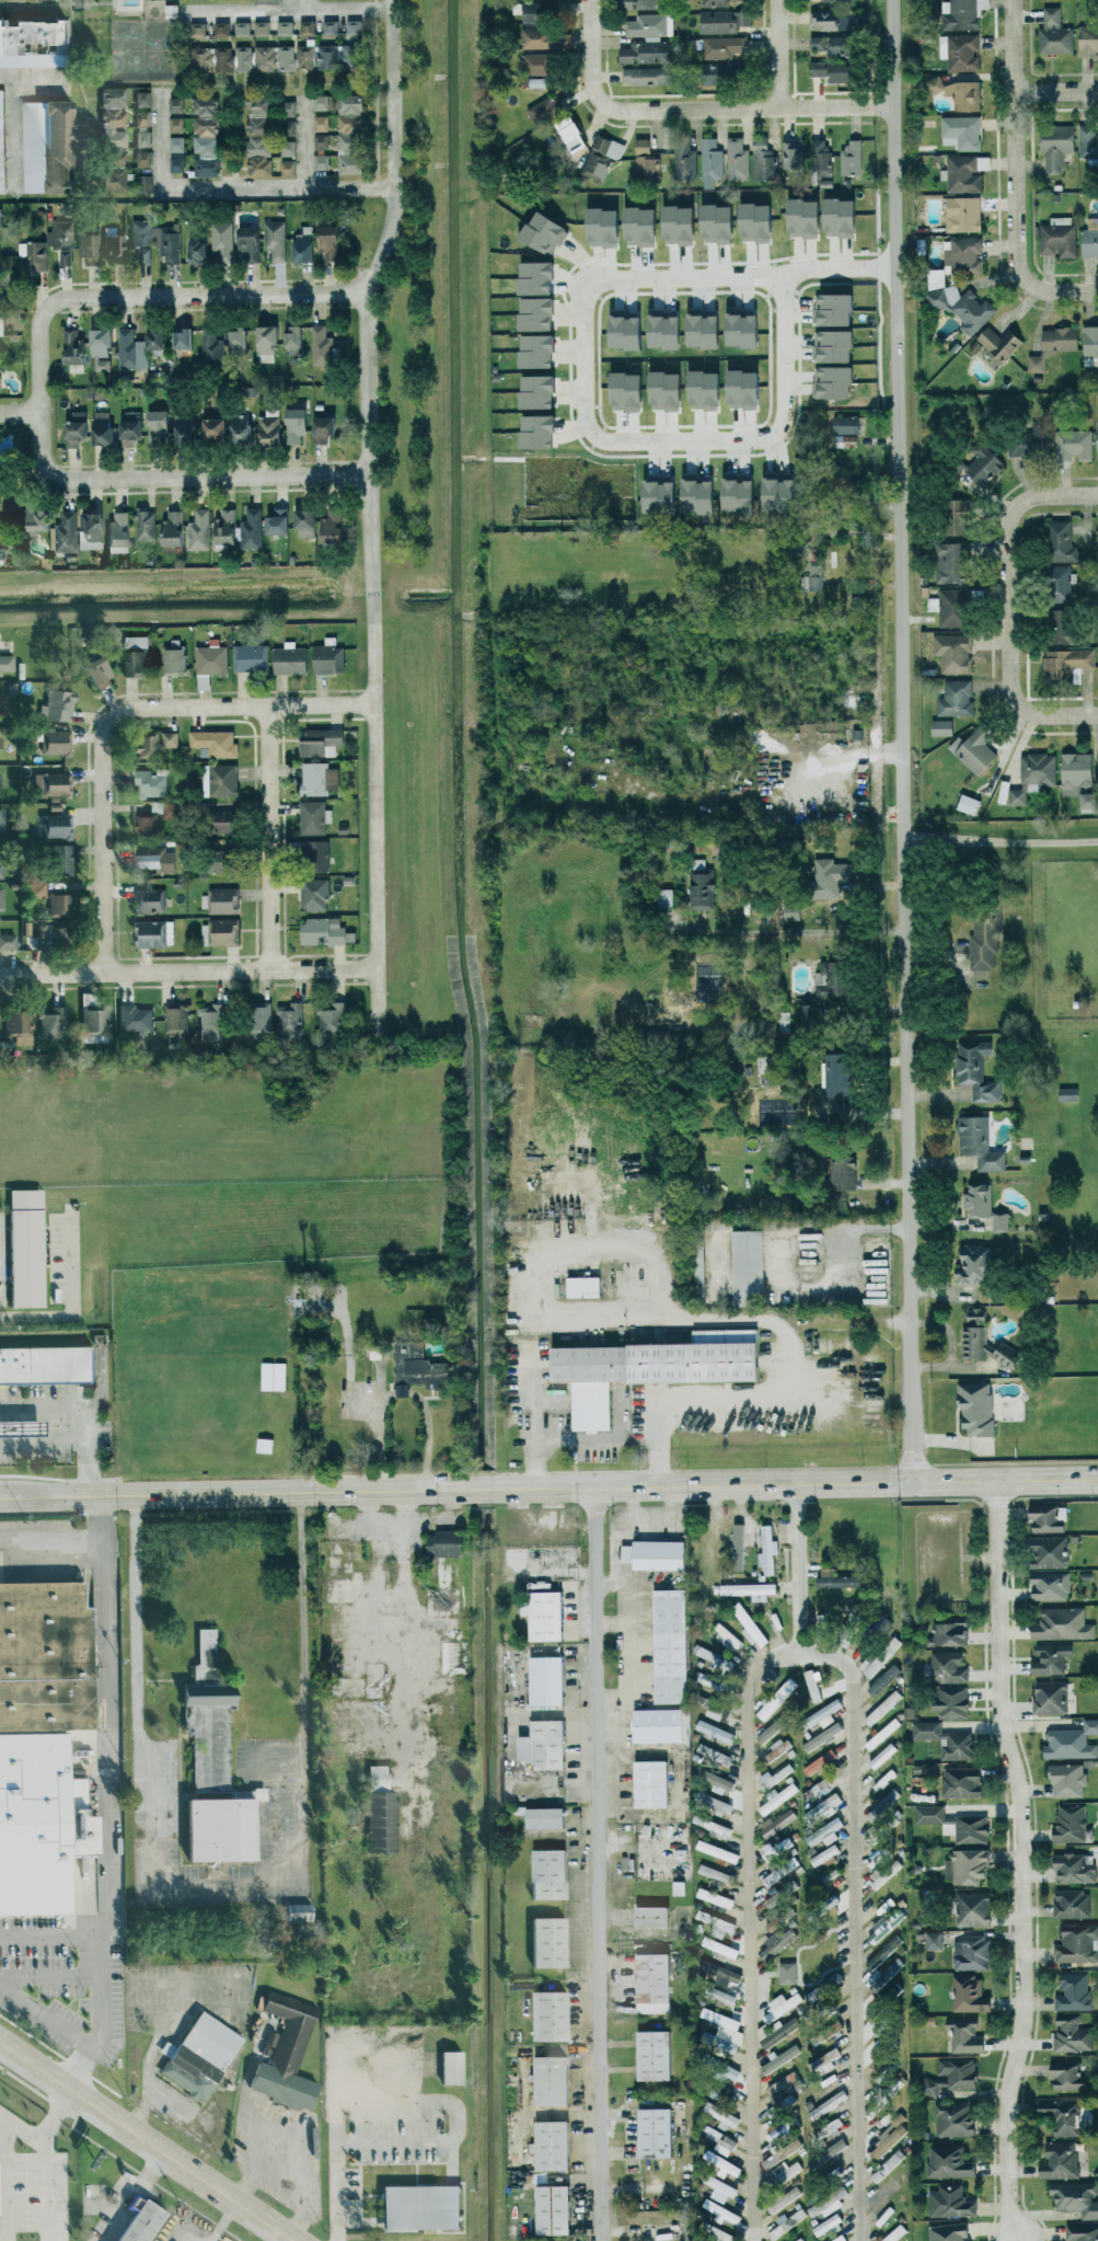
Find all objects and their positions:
building: (267, 1)
building: (715, 2)
building: (640, 3)
road: (301, 5)
road: (292, 11)
building: (541, 11)
building: (960, 13)
building: (831, 19)
building: (724, 21)
building: (647, 24)
building: (330, 26)
building: (221, 27)
building: (243, 27)
building: (262, 27)
building: (284, 27)
building: (308, 27)
building: (198, 28)
building: (354, 30)
building: (1055, 33)
building: (548, 38)
building: (1088, 41)
building: (32, 42)
building: (833, 44)
building: (724, 46)
road: (1012, 46)
building: (960, 51)
road: (588, 53)
building: (646, 53)
building: (305, 56)
building: (336, 56)
road: (779, 56)
building: (244, 57)
building: (267, 57)
building: (287, 57)
building: (226, 58)
building: (205, 59)
building: (540, 62)
building: (834, 70)
road: (27, 74)
building: (648, 74)
road: (1055, 91)
building: (959, 92)
building: (114, 95)
building: (143, 97)
building: (321, 102)
building: (350, 102)
building: (176, 104)
building: (288, 108)
building: (545, 111)
road: (743, 112)
building: (261, 116)
building: (143, 117)
building: (350, 122)
building: (321, 123)
building: (177, 124)
building: (115, 126)
road: (15, 127)
building: (288, 127)
building: (962, 131)
building: (574, 134)
building: (207, 136)
building: (143, 138)
building: (2, 141)
road: (161, 141)
building: (321, 141)
building: (1088, 141)
road: (307, 143)
building: (1057, 145)
building: (49, 146)
building: (259, 146)
building: (289, 148)
building: (350, 152)
building: (176, 153)
building: (791, 154)
building: (821, 154)
building: (602, 156)
building: (145, 158)
building: (737, 158)
building: (852, 158)
building: (763, 159)
building: (322, 161)
building: (646, 161)
building: (685, 161)
building: (710, 162)
building: (262, 165)
building: (289, 166)
building: (117, 171)
building: (962, 173)
building: (145, 182)
road: (262, 189)
building: (961, 215)
building: (808, 216)
building: (843, 216)
building: (0, 218)
building: (760, 221)
building: (721, 222)
building: (683, 223)
building: (626, 226)
road: (1015, 226)
building: (142, 231)
building: (547, 231)
building: (1091, 238)
building: (276, 239)
building: (1060, 239)
building: (223, 240)
building: (332, 241)
building: (171, 243)
building: (251, 243)
building: (305, 243)
building: (51, 245)
building: (116, 248)
building: (90, 249)
building: (198, 249)
building: (145, 254)
building: (541, 277)
building: (946, 286)
road: (149, 296)
building: (0, 297)
building: (840, 309)
building: (539, 313)
building: (0, 323)
building: (747, 329)
building: (667, 330)
building: (708, 330)
building: (631, 332)
building: (185, 338)
building: (157, 340)
building: (241, 340)
building: (268, 342)
building: (1002, 342)
building: (297, 344)
building: (323, 345)
building: (839, 345)
building: (1055, 345)
building: (1091, 345)
building: (73, 347)
building: (215, 347)
building: (128, 348)
building: (541, 350)
road: (580, 380)
building: (0, 381)
building: (835, 381)
building: (747, 388)
building: (708, 389)
building: (542, 390)
building: (632, 390)
building: (669, 390)
road: (19, 415)
building: (1097, 423)
building: (298, 424)
building: (847, 424)
building: (132, 427)
building: (160, 427)
building: (217, 427)
building: (77, 428)
building: (104, 428)
building: (325, 428)
building: (187, 429)
building: (243, 429)
building: (270, 429)
building: (542, 430)
building: (847, 440)
building: (1029, 441)
building: (1074, 445)
building: (986, 464)
road: (174, 478)
building: (784, 492)
building: (742, 494)
building: (664, 495)
building: (702, 495)
building: (0, 501)
road: (367, 509)
road: (1010, 512)
building: (962, 516)
building: (39, 517)
building: (280, 520)
building: (307, 520)
building: (146, 524)
building: (335, 526)
building: (1, 527)
building: (227, 527)
building: (174, 528)
building: (253, 528)
building: (92, 530)
building: (200, 530)
building: (120, 531)
building: (67, 532)
building: (1060, 540)
building: (2, 554)
building: (952, 562)
building: (1060, 582)
building: (817, 583)
building: (1064, 628)
building: (953, 652)
building: (137, 655)
building: (330, 656)
building: (252, 657)
building: (175, 659)
building: (291, 659)
building: (7, 663)
building: (1067, 665)
building: (100, 670)
road: (1012, 696)
building: (957, 698)
building: (58, 705)
road: (239, 705)
building: (943, 727)
building: (1, 739)
building: (171, 739)
building: (325, 740)
road: (898, 740)
building: (57, 742)
building: (216, 742)
road: (715, 744)
building: (147, 745)
building: (975, 749)
building: (1035, 775)
building: (1078, 775)
building: (320, 778)
building: (223, 779)
building: (58, 783)
building: (151, 783)
road: (708, 803)
building: (970, 804)
building: (158, 805)
building: (314, 817)
building: (1, 819)
building: (224, 821)
building: (148, 823)
building: (58, 825)
road: (268, 839)
road: (998, 840)
road: (104, 842)
building: (316, 854)
building: (62, 860)
building: (155, 860)
building: (1, 862)
building: (220, 864)
building: (834, 878)
building: (39, 887)
building: (703, 889)
building: (315, 894)
building: (2, 897)
building: (667, 898)
building: (150, 899)
building: (223, 900)
building: (61, 904)
building: (793, 911)
building: (324, 931)
road: (784, 931)
building: (220, 932)
building: (151, 933)
building: (54, 935)
building: (8, 941)
building: (987, 943)
road: (188, 973)
building: (834, 978)
building: (809, 1013)
building: (93, 1016)
building: (135, 1016)
building: (333, 1016)
building: (290, 1019)
building: (262, 1020)
building: (53, 1022)
building: (176, 1022)
building: (212, 1022)
building: (20, 1025)
helipad: (492, 1055)
building: (978, 1070)
building: (835, 1084)
building: (1071, 1094)
road: (947, 1097)
building: (981, 1144)
road: (941, 1169)
road: (539, 1170)
building: (847, 1174)
building: (979, 1198)
building: (1002, 1221)
road: (947, 1228)
building: (28, 1246)
road: (853, 1249)
building: (749, 1264)
building: (976, 1264)
building: (586, 1285)
road: (73, 1305)
road: (797, 1320)
building: (975, 1334)
building: (1007, 1354)
building: (47, 1364)
building: (419, 1365)
building: (647, 1369)
building: (273, 1375)
building: (405, 1388)
building: (486, 1397)
building: (979, 1407)
road: (732, 1409)
road: (79, 1415)
building: (32, 1426)
building: (44, 1426)
building: (2, 1427)
building: (486, 1430)
road: (42, 1440)
building: (266, 1444)
road: (1005, 1480)
road: (455, 1490)
building: (1045, 1518)
road: (53, 1539)
building: (739, 1540)
building: (447, 1541)
building: (768, 1549)
building: (1049, 1551)
building: (657, 1553)
road: (798, 1567)
building: (834, 1578)
building: (1050, 1585)
building: (751, 1589)
building: (450, 1595)
building: (547, 1614)
building: (1063, 1623)
building: (750, 1624)
building: (949, 1633)
road: (404, 1644)
building: (671, 1645)
road: (802, 1652)
building: (452, 1656)
building: (1052, 1657)
building: (949, 1666)
building: (548, 1680)
building: (1051, 1697)
building: (771, 1701)
building: (952, 1701)
building: (829, 1711)
building: (210, 1717)
building: (661, 1724)
building: (45, 1725)
building: (775, 1725)
building: (716, 1731)
building: (824, 1735)
building: (946, 1739)
building: (1073, 1742)
building: (545, 1744)
building: (888, 1750)
building: (822, 1761)
building: (774, 1775)
building: (1070, 1779)
building: (963, 1781)
building: (654, 1782)
building: (817, 1792)
road: (111, 1797)
building: (778, 1797)
building: (721, 1804)
building: (383, 1808)
building: (547, 1816)
building: (777, 1821)
building: (956, 1824)
building: (1072, 1824)
building: (228, 1826)
building: (714, 1826)
building: (718, 1851)
building: (832, 1852)
road: (1020, 1861)
road: (597, 1864)
building: (970, 1865)
building: (1074, 1867)
building: (552, 1873)
building: (716, 1876)
road: (230, 1883)
building: (786, 1894)
building: (718, 1898)
building: (1073, 1904)
building: (973, 1908)
building: (301, 1911)
building: (654, 1916)
building: (882, 1927)
road: (50, 1934)
building: (935, 1939)
building: (552, 1941)
building: (1078, 1943)
building: (973, 1952)
building: (885, 1954)
building: (718, 1970)
building: (788, 1972)
road: (49, 1974)
building: (655, 1983)
building: (831, 1983)
building: (1077, 1991)
building: (970, 1993)
building: (723, 1995)
building: (553, 2015)
road: (46, 2018)
building: (721, 2018)
building: (1072, 2034)
building: (967, 2035)
building: (720, 2042)
building: (204, 2055)
building: (289, 2055)
building: (657, 2055)
building: (454, 2067)
road: (146, 2068)
building: (1068, 2075)
building: (953, 2077)
building: (553, 2080)
building: (840, 2096)
road: (254, 2101)
road: (177, 2114)
building: (721, 2114)
building: (1063, 2115)
building: (955, 2118)
road: (217, 2129)
road: (21, 2131)
building: (657, 2131)
building: (720, 2137)
building: (888, 2138)
road: (363, 2140)
road: (146, 2141)
building: (553, 2146)
building: (895, 2157)
building: (1061, 2160)
road: (43, 2162)
building: (950, 2162)
building: (785, 2170)
road: (2, 2180)
road: (243, 2187)
building: (885, 2193)
building: (0, 2196)
building: (1076, 2197)
building: (951, 2202)
building: (425, 2207)
building: (555, 2209)
building: (143, 2220)
building: (828, 2225)
road: (304, 2227)
building: (950, 2231)
building: (893, 2232)
building: (1082, 2232)
building: (841, 2238)

